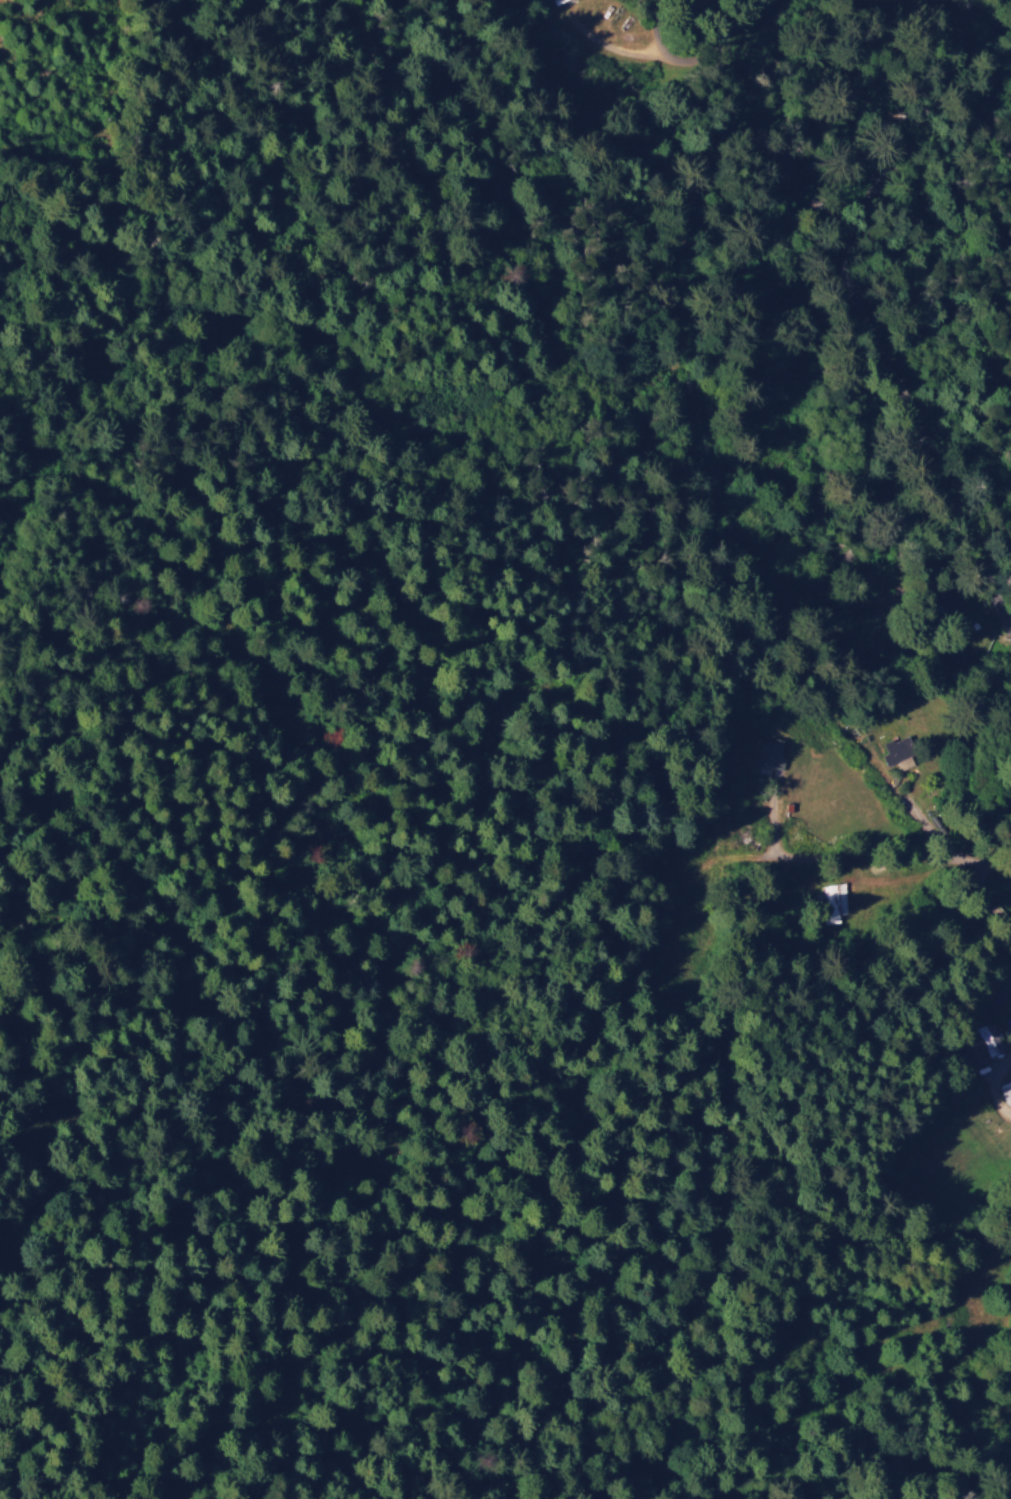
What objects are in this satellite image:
road: (859, 309)
road: (709, 496)
road: (615, 621)
road: (498, 736)
building: (898, 752)
road: (705, 820)
building: (835, 904)
road: (697, 926)
road: (956, 1432)

